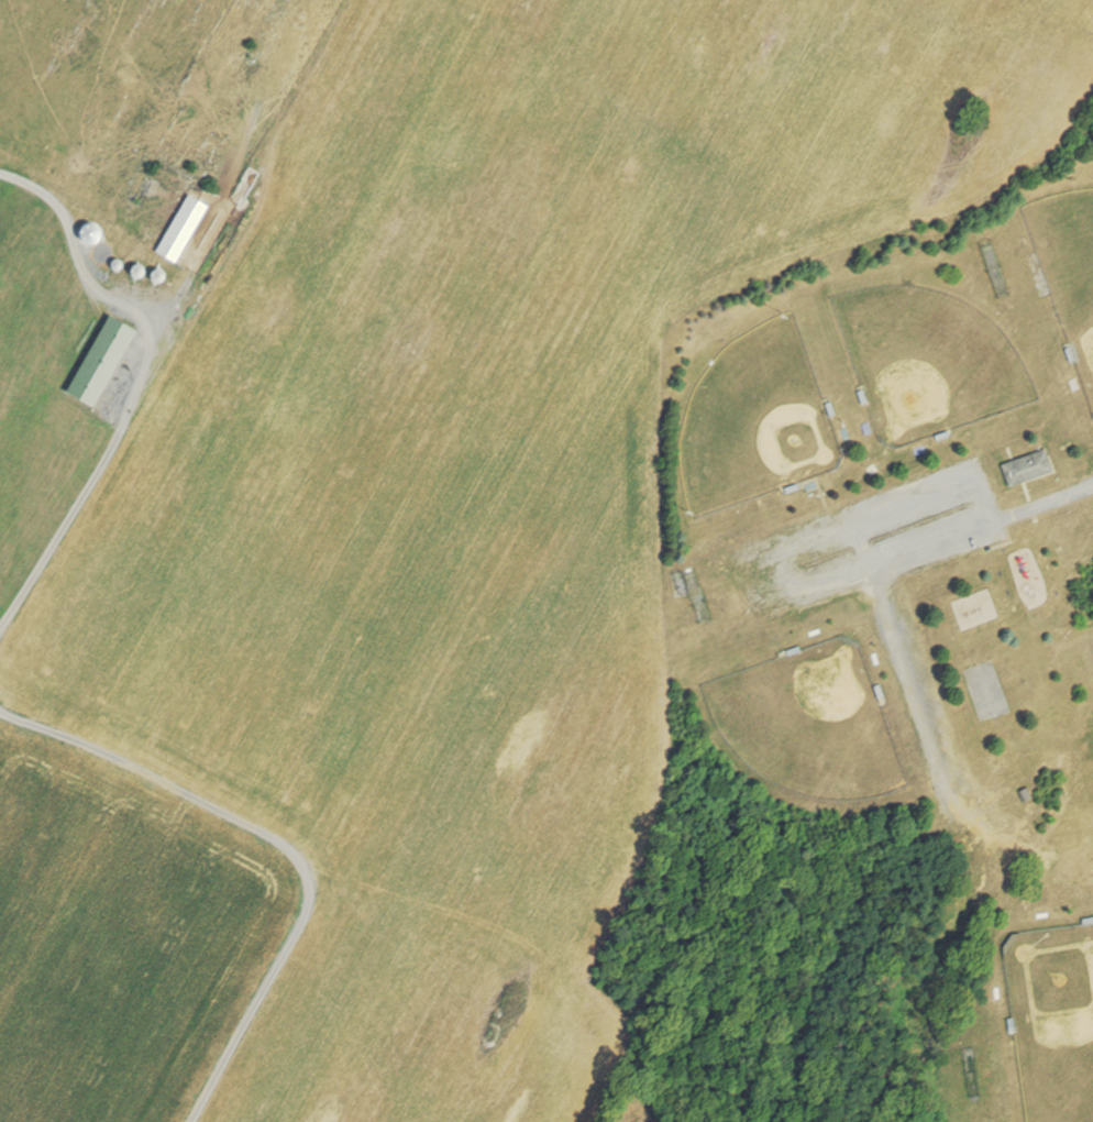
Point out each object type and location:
park: (1067, 269)
park: (928, 364)
road: (137, 384)
park: (753, 427)
road: (1048, 505)
parking lot: (895, 535)
park: (892, 669)
park: (981, 694)
park: (807, 724)
road: (285, 846)
park: (1050, 1018)

